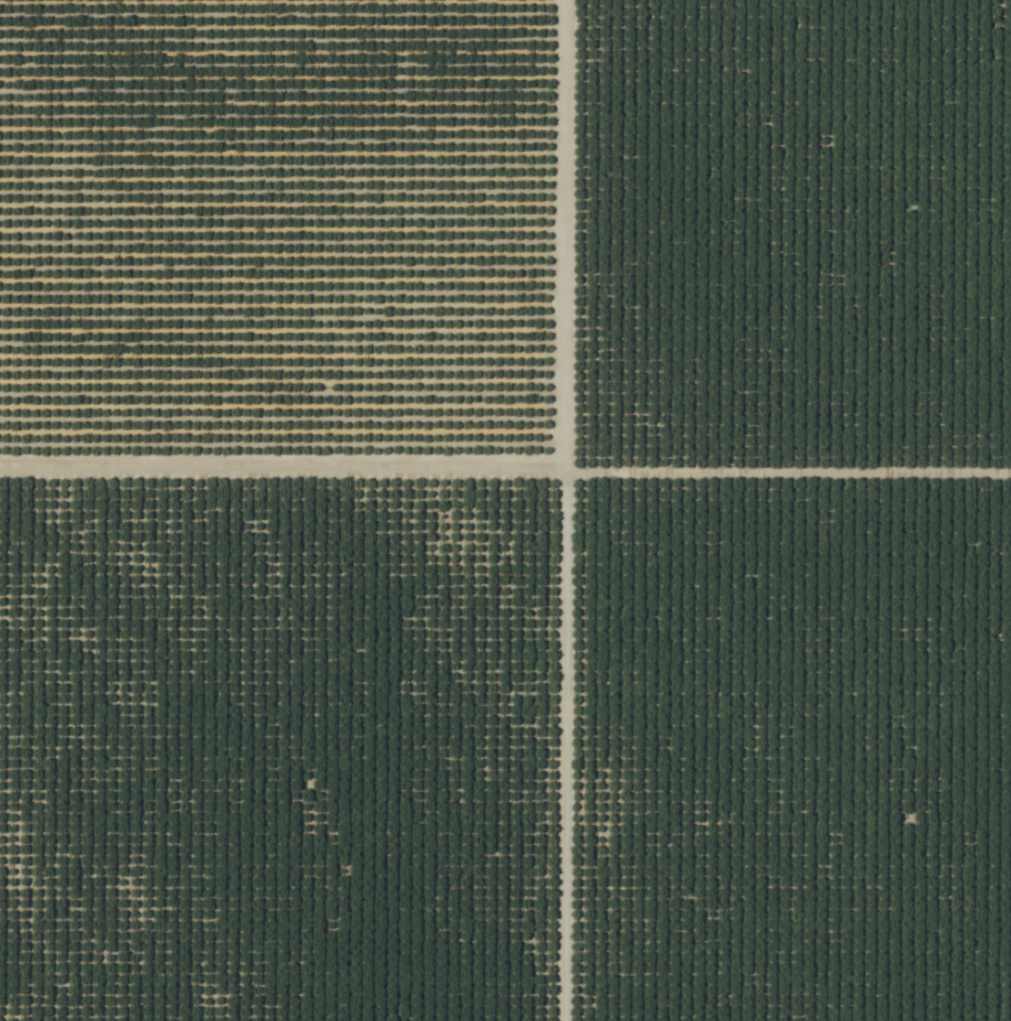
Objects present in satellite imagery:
road: (505, 466)
road: (555, 510)

